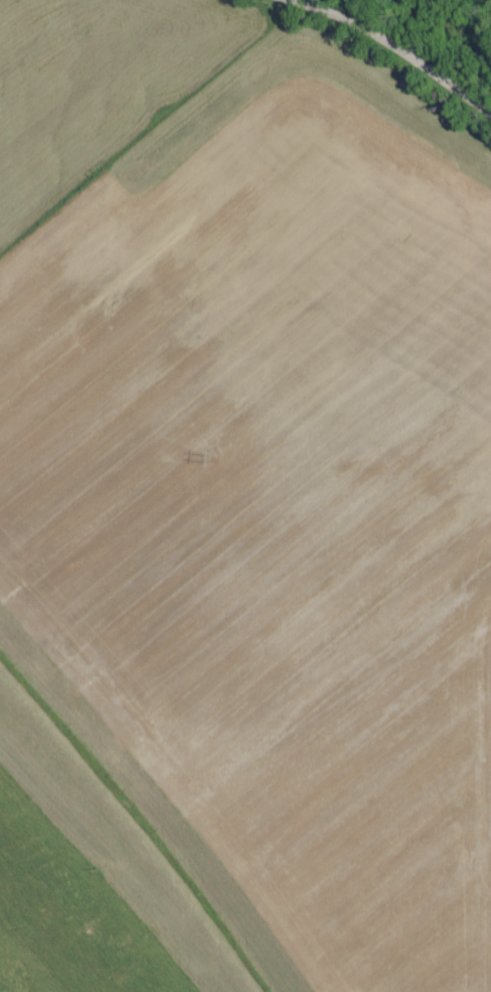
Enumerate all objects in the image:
road: (393, 44)

